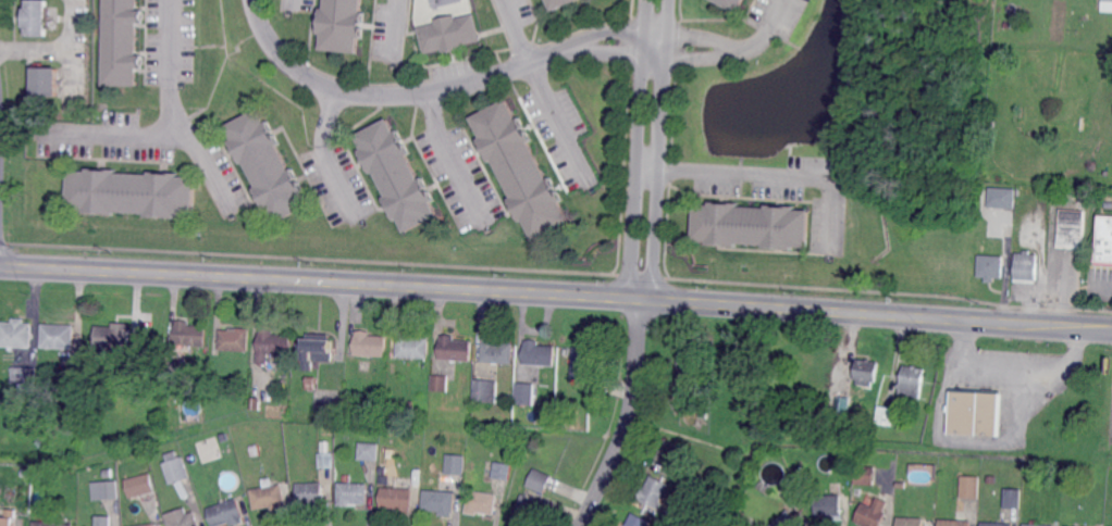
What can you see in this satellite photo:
building: (557, 2)
building: (733, 3)
road: (288, 4)
building: (1107, 7)
building: (37, 17)
building: (341, 24)
building: (1008, 25)
building: (1017, 26)
road: (397, 30)
building: (448, 32)
road: (762, 34)
building: (121, 41)
road: (724, 48)
road: (54, 49)
building: (46, 82)
road: (546, 91)
road: (393, 92)
road: (170, 115)
road: (114, 135)
road: (325, 156)
road: (454, 160)
building: (265, 164)
building: (519, 168)
road: (773, 172)
building: (395, 174)
building: (132, 191)
building: (1002, 198)
building: (752, 224)
building: (1073, 225)
building: (1104, 239)
building: (1026, 266)
building: (991, 267)
road: (1108, 290)
road: (556, 292)
road: (640, 297)
building: (190, 334)
building: (16, 335)
building: (59, 336)
building: (114, 338)
building: (235, 339)
building: (370, 343)
building: (272, 347)
building: (412, 347)
building: (316, 349)
building: (455, 349)
building: (497, 351)
building: (203, 353)
building: (540, 353)
building: (584, 363)
road: (992, 364)
building: (866, 372)
building: (688, 376)
building: (25, 378)
building: (245, 378)
building: (70, 380)
building: (913, 381)
building: (310, 383)
building: (441, 383)
building: (132, 388)
building: (484, 390)
building: (730, 390)
building: (523, 394)
building: (328, 400)
building: (349, 401)
building: (255, 402)
building: (843, 404)
building: (975, 413)
building: (889, 415)
road: (629, 416)
road: (992, 442)
building: (255, 448)
building: (506, 448)
building: (230, 451)
building: (367, 451)
building: (669, 455)
building: (526, 456)
building: (231, 460)
building: (324, 460)
building: (860, 460)
building: (850, 461)
building: (454, 465)
building: (175, 468)
building: (497, 469)
building: (27, 472)
building: (107, 474)
building: (865, 475)
building: (540, 478)
building: (992, 479)
building: (139, 483)
building: (693, 484)
building: (901, 484)
building: (971, 485)
building: (109, 490)
building: (653, 491)
building: (351, 492)
building: (310, 493)
building: (269, 496)
building: (1011, 497)
building: (397, 499)
building: (440, 502)
building: (481, 502)
building: (829, 504)
building: (527, 511)
building: (227, 513)
building: (873, 513)
building: (182, 517)
building: (668, 517)
building: (9, 518)
building: (787, 519)
building: (101, 521)
building: (638, 521)
building: (751, 522)
building: (912, 522)
building: (953, 523)
building: (1033, 523)
building: (49, 524)
building: (994, 524)
building: (150, 525)
building: (1072, 525)

